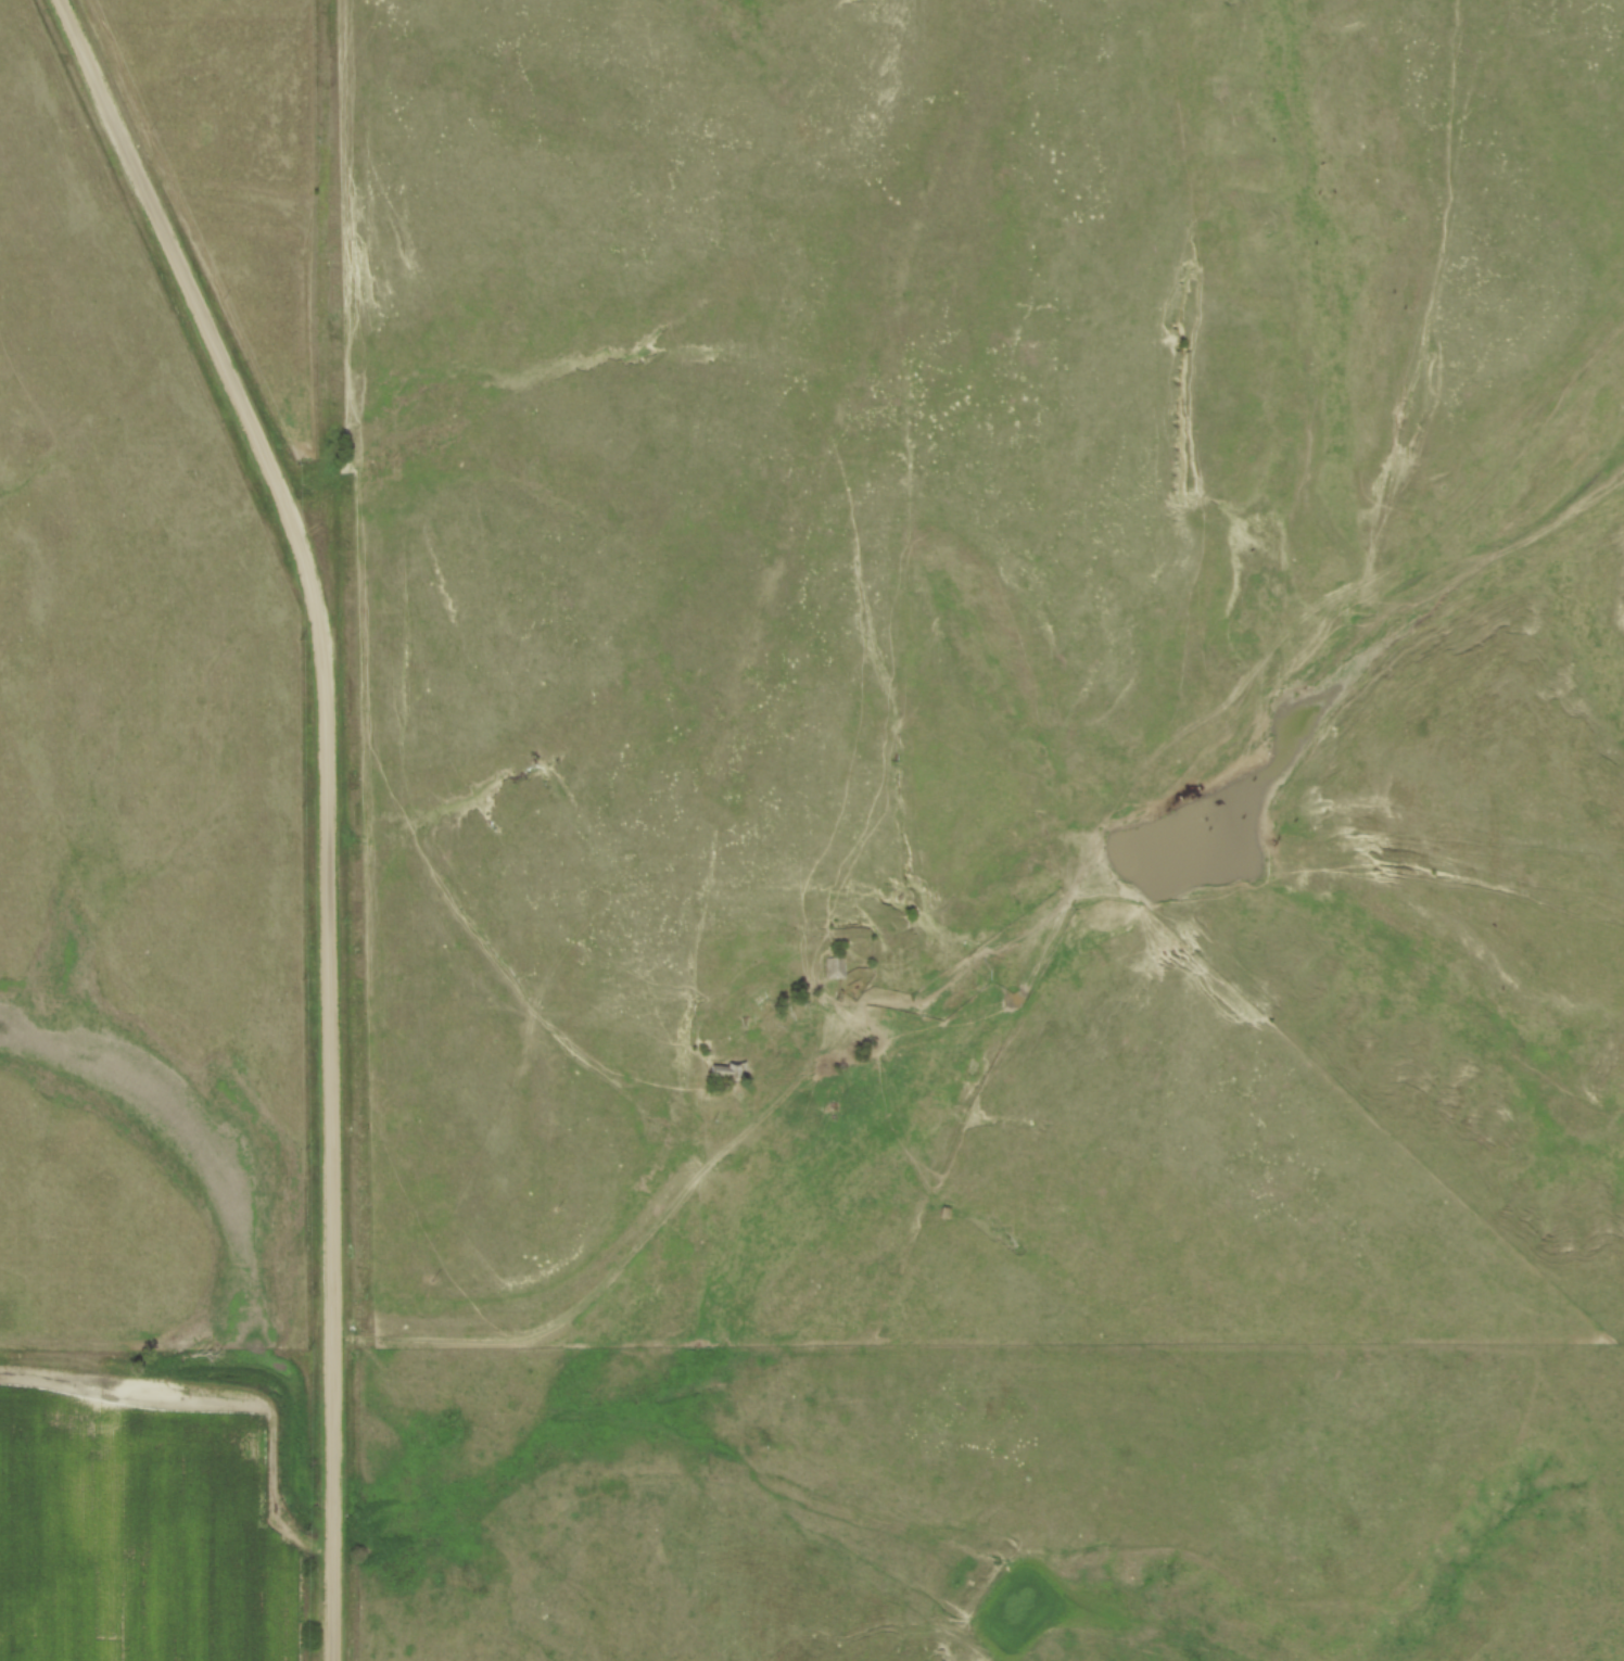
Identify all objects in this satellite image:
road: (328, 802)
building: (834, 969)
building: (734, 1073)
crop: (138, 1525)

